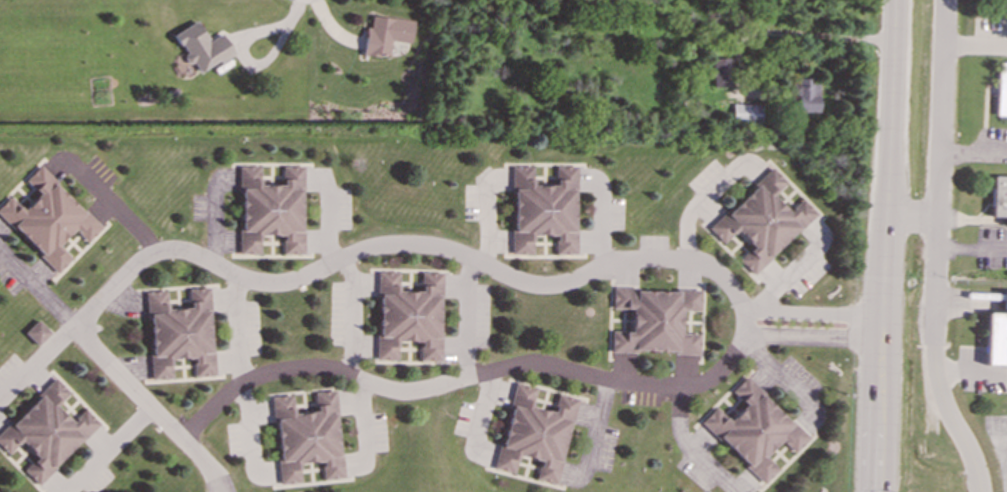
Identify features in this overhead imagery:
building: (1001, 4)
building: (386, 34)
road: (976, 41)
building: (203, 46)
building: (722, 71)
building: (1001, 89)
building: (806, 95)
road: (942, 109)
building: (745, 112)
road: (974, 150)
road: (703, 195)
building: (999, 197)
road: (107, 198)
building: (272, 209)
building: (544, 210)
road: (914, 218)
building: (48, 219)
building: (762, 220)
road: (487, 225)
road: (601, 225)
road: (328, 226)
road: (886, 245)
road: (973, 249)
road: (636, 258)
road: (788, 275)
road: (38, 289)
building: (409, 315)
road: (354, 316)
road: (471, 318)
building: (655, 320)
road: (814, 324)
road: (247, 331)
building: (37, 332)
building: (180, 333)
building: (996, 336)
road: (764, 349)
road: (934, 360)
road: (38, 364)
road: (971, 371)
road: (366, 429)
building: (754, 429)
building: (46, 431)
building: (535, 433)
building: (307, 437)
road: (251, 438)
road: (691, 447)
road: (105, 453)
road: (205, 464)

